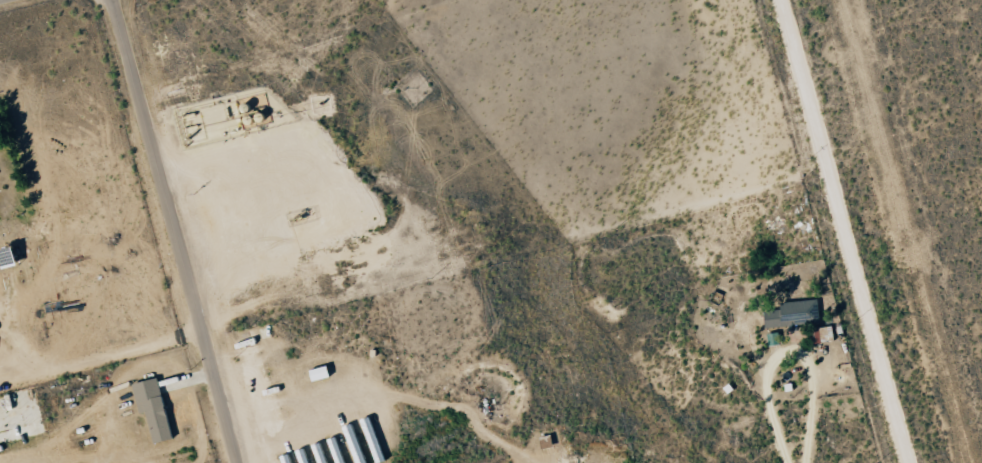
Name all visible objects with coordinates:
road: (175, 231)
road: (842, 231)
building: (788, 314)
building: (823, 334)
building: (315, 374)
building: (150, 409)
building: (317, 458)

